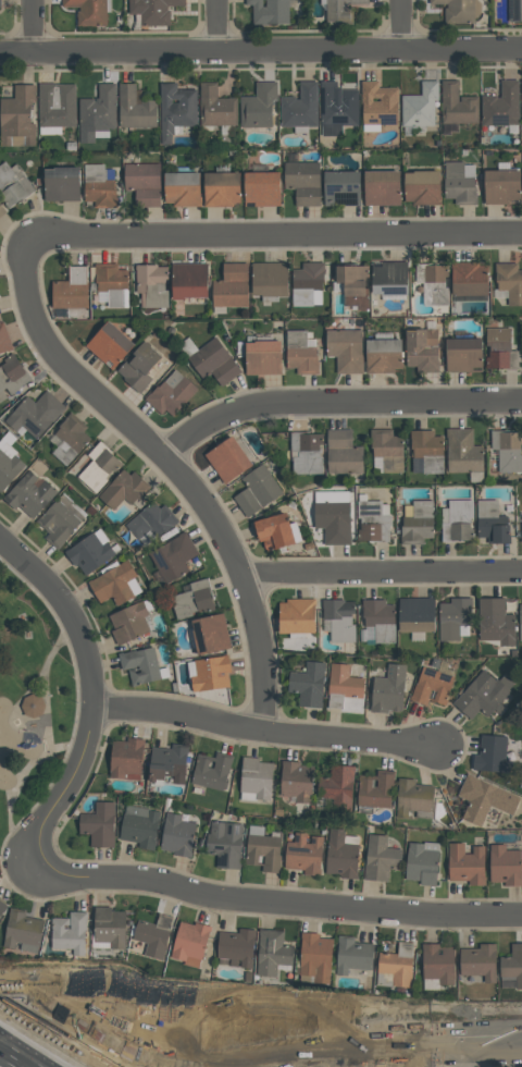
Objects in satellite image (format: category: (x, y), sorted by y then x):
building: (296, 0)
building: (0, 3)
building: (514, 10)
building: (152, 11)
building: (270, 11)
building: (340, 11)
building: (459, 11)
building: (88, 12)
road: (220, 25)
road: (400, 25)
road: (34, 26)
road: (261, 50)
building: (521, 87)
building: (378, 103)
building: (420, 105)
building: (458, 105)
building: (501, 105)
building: (259, 106)
building: (55, 107)
building: (216, 107)
building: (300, 107)
building: (135, 108)
building: (337, 108)
building: (176, 109)
building: (99, 110)
building: (17, 116)
building: (303, 181)
building: (61, 183)
building: (144, 183)
building: (459, 184)
building: (12, 186)
building: (99, 186)
building: (422, 186)
building: (501, 186)
building: (382, 187)
building: (183, 188)
building: (222, 188)
building: (262, 188)
building: (341, 188)
building: (1, 210)
road: (269, 232)
building: (308, 277)
building: (389, 277)
building: (469, 278)
building: (189, 279)
building: (270, 279)
building: (510, 281)
building: (112, 283)
building: (433, 283)
building: (151, 285)
building: (232, 285)
building: (352, 285)
building: (71, 289)
building: (3, 339)
building: (110, 344)
building: (422, 348)
building: (346, 349)
building: (500, 349)
building: (300, 352)
building: (383, 355)
building: (463, 355)
building: (263, 357)
building: (214, 363)
building: (140, 366)
building: (12, 375)
building: (171, 393)
road: (336, 404)
building: (35, 414)
building: (70, 438)
building: (388, 449)
building: (427, 450)
building: (507, 450)
building: (463, 451)
building: (307, 452)
building: (343, 453)
building: (227, 459)
building: (99, 467)
building: (9, 468)
road: (177, 470)
building: (124, 489)
building: (258, 490)
building: (30, 493)
building: (61, 518)
building: (152, 520)
building: (333, 520)
building: (373, 520)
building: (458, 520)
building: (492, 522)
building: (418, 523)
building: (274, 531)
building: (521, 531)
building: (521, 538)
building: (89, 553)
building: (173, 556)
road: (381, 574)
building: (114, 582)
building: (192, 599)
building: (417, 614)
building: (297, 615)
building: (453, 617)
building: (380, 618)
building: (339, 620)
building: (128, 622)
building: (496, 622)
building: (520, 623)
building: (210, 634)
building: (140, 665)
building: (211, 673)
building: (344, 682)
building: (308, 684)
building: (432, 686)
building: (389, 689)
building: (482, 695)
park: (30, 702)
building: (33, 704)
road: (179, 714)
road: (88, 737)
road: (350, 738)
building: (492, 753)
building: (127, 758)
building: (169, 762)
building: (212, 770)
building: (256, 780)
building: (296, 781)
building: (337, 786)
building: (375, 788)
building: (412, 797)
building: (484, 799)
building: (99, 824)
building: (140, 826)
building: (177, 835)
building: (225, 843)
building: (263, 849)
building: (304, 854)
building: (343, 854)
building: (381, 858)
building: (422, 862)
building: (467, 863)
building: (505, 864)
building: (2, 907)
road: (323, 907)
building: (109, 927)
building: (21, 929)
building: (70, 933)
building: (152, 935)
building: (189, 943)
building: (236, 948)
building: (272, 952)
building: (314, 955)
building: (353, 955)
building: (478, 961)
building: (438, 962)
building: (397, 965)
building: (512, 965)
road: (497, 1040)
road: (282, 1043)
road: (46, 1046)
road: (472, 1054)
road: (11, 1059)

